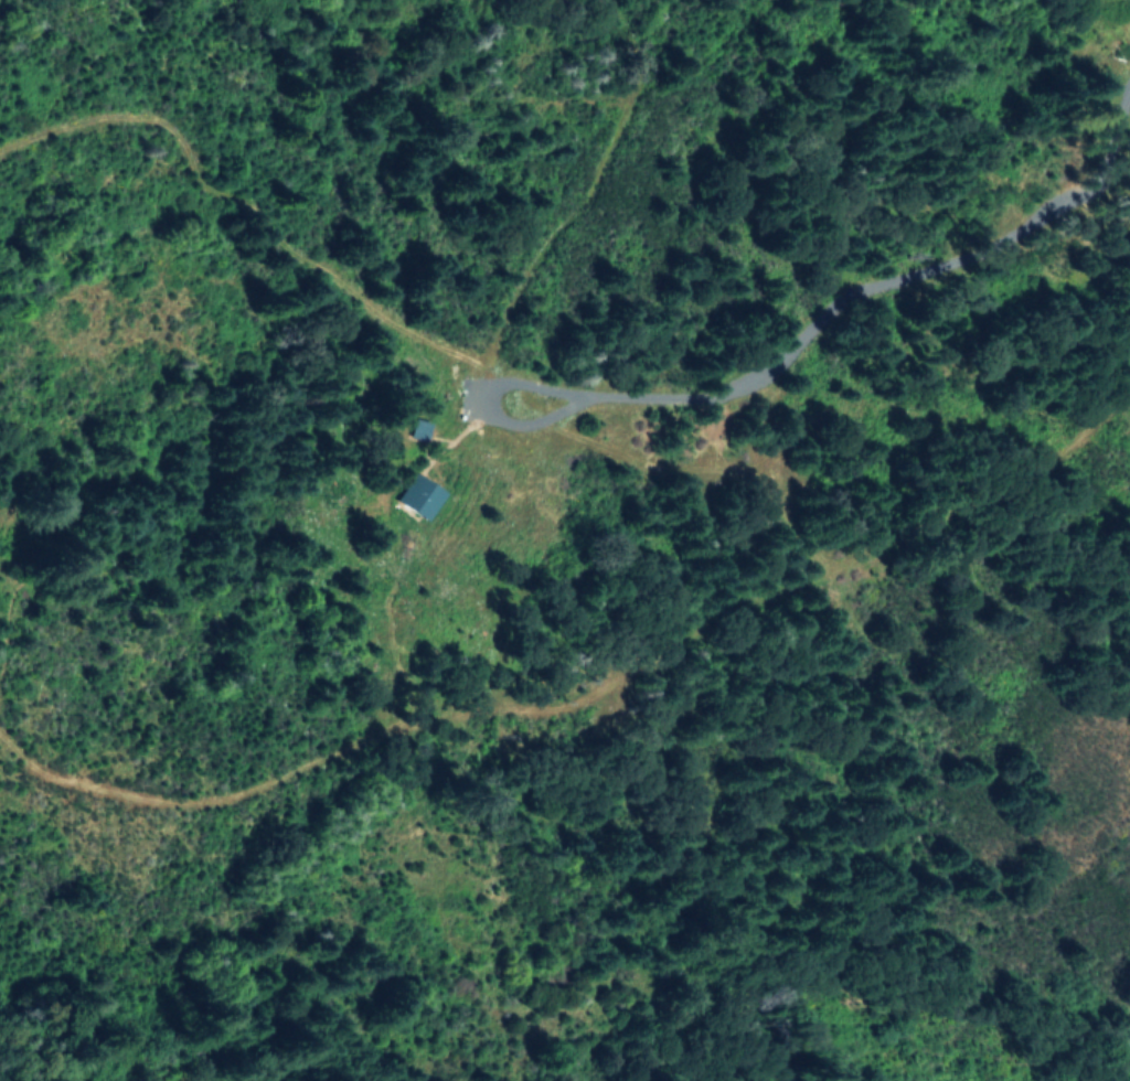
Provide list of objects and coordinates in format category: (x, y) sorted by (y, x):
road: (593, 192)
road: (419, 338)
road: (813, 395)
road: (993, 493)
building: (422, 495)
road: (425, 727)

